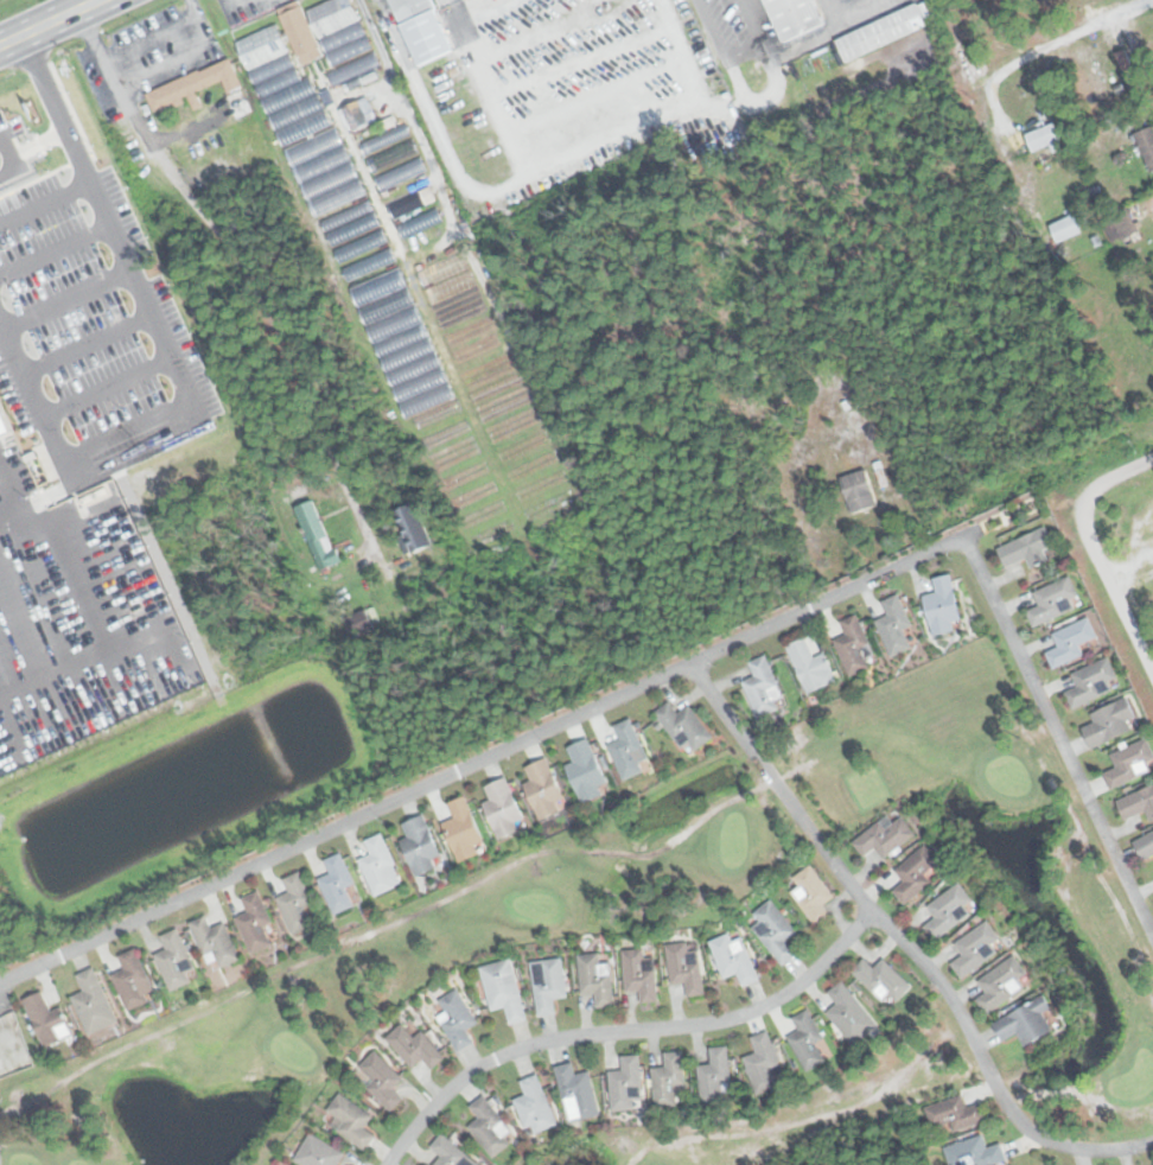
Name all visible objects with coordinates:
road: (482, 13)
building: (794, 17)
road: (46, 21)
road: (751, 21)
building: (421, 28)
road: (833, 31)
road: (155, 32)
building: (299, 32)
building: (880, 32)
building: (343, 40)
road: (719, 46)
road: (172, 53)
building: (1129, 74)
road: (42, 78)
building: (198, 87)
road: (601, 91)
road: (125, 102)
building: (358, 114)
building: (301, 123)
building: (1043, 136)
building: (384, 140)
road: (27, 144)
building: (1146, 145)
road: (5, 149)
building: (391, 157)
building: (401, 174)
road: (43, 200)
building: (349, 223)
building: (1117, 224)
building: (1065, 228)
building: (419, 230)
building: (359, 246)
road: (53, 249)
building: (368, 265)
road: (127, 269)
building: (442, 269)
building: (453, 293)
road: (66, 299)
road: (87, 343)
building: (402, 343)
road: (108, 386)
building: (4, 426)
road: (65, 456)
road: (1123, 471)
building: (858, 490)
building: (413, 527)
building: (317, 535)
building: (1025, 548)
road: (1110, 578)
building: (1053, 601)
building: (942, 606)
building: (894, 625)
building: (1070, 642)
building: (854, 645)
building: (810, 666)
building: (1091, 682)
building: (763, 687)
building: (1110, 722)
building: (683, 727)
road: (1057, 738)
building: (628, 750)
road: (489, 753)
building: (1129, 764)
building: (585, 770)
building: (542, 789)
building: (1138, 804)
building: (502, 808)
building: (461, 829)
building: (884, 836)
building: (419, 845)
building: (1145, 845)
building: (377, 864)
building: (915, 873)
building: (336, 884)
building: (813, 895)
building: (295, 903)
building: (949, 910)
building: (254, 922)
building: (775, 930)
building: (215, 942)
road: (904, 943)
building: (975, 949)
building: (734, 957)
building: (173, 961)
building: (686, 966)
building: (639, 974)
building: (594, 978)
building: (881, 979)
building: (132, 980)
building: (548, 983)
building: (1001, 983)
building: (503, 988)
building: (93, 1002)
building: (849, 1013)
building: (457, 1018)
building: (46, 1019)
building: (1025, 1023)
road: (622, 1030)
building: (807, 1040)
building: (414, 1048)
building: (763, 1063)
building: (714, 1077)
building: (380, 1078)
building: (669, 1080)
building: (626, 1083)
building: (576, 1093)
building: (534, 1104)
building: (955, 1113)
building: (351, 1120)
building: (489, 1127)
building: (318, 1152)
building: (974, 1152)
building: (450, 1153)

